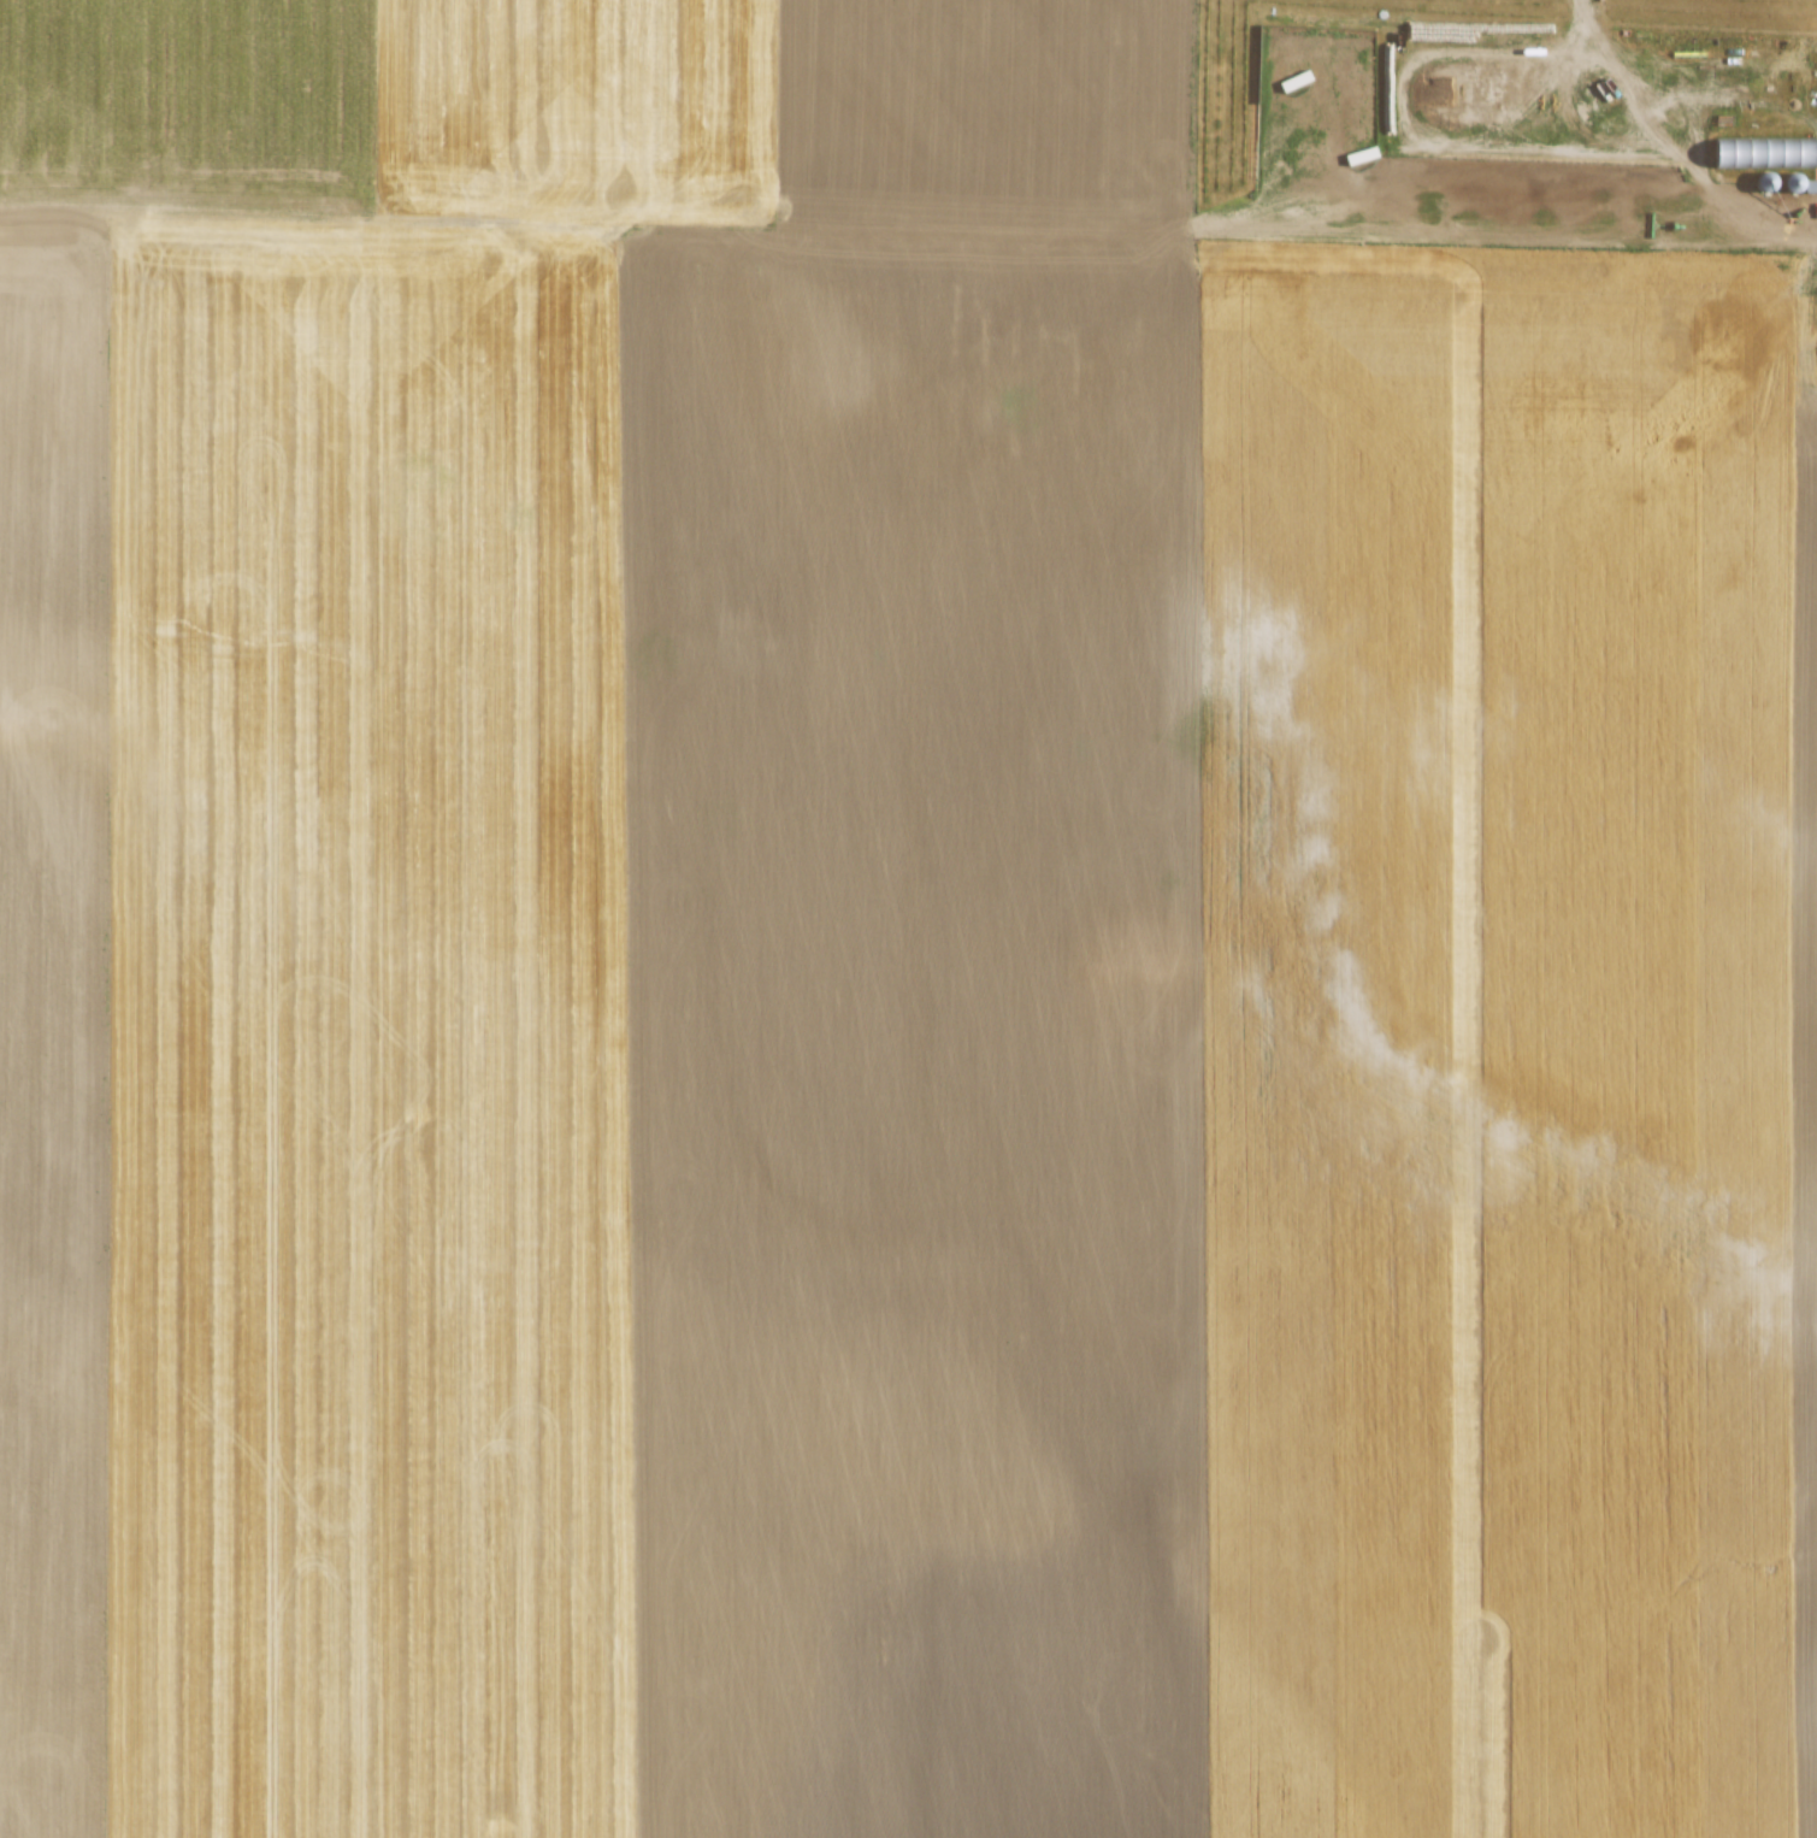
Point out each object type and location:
building: (1607, 79)
building: (1266, 92)
building: (1361, 153)

